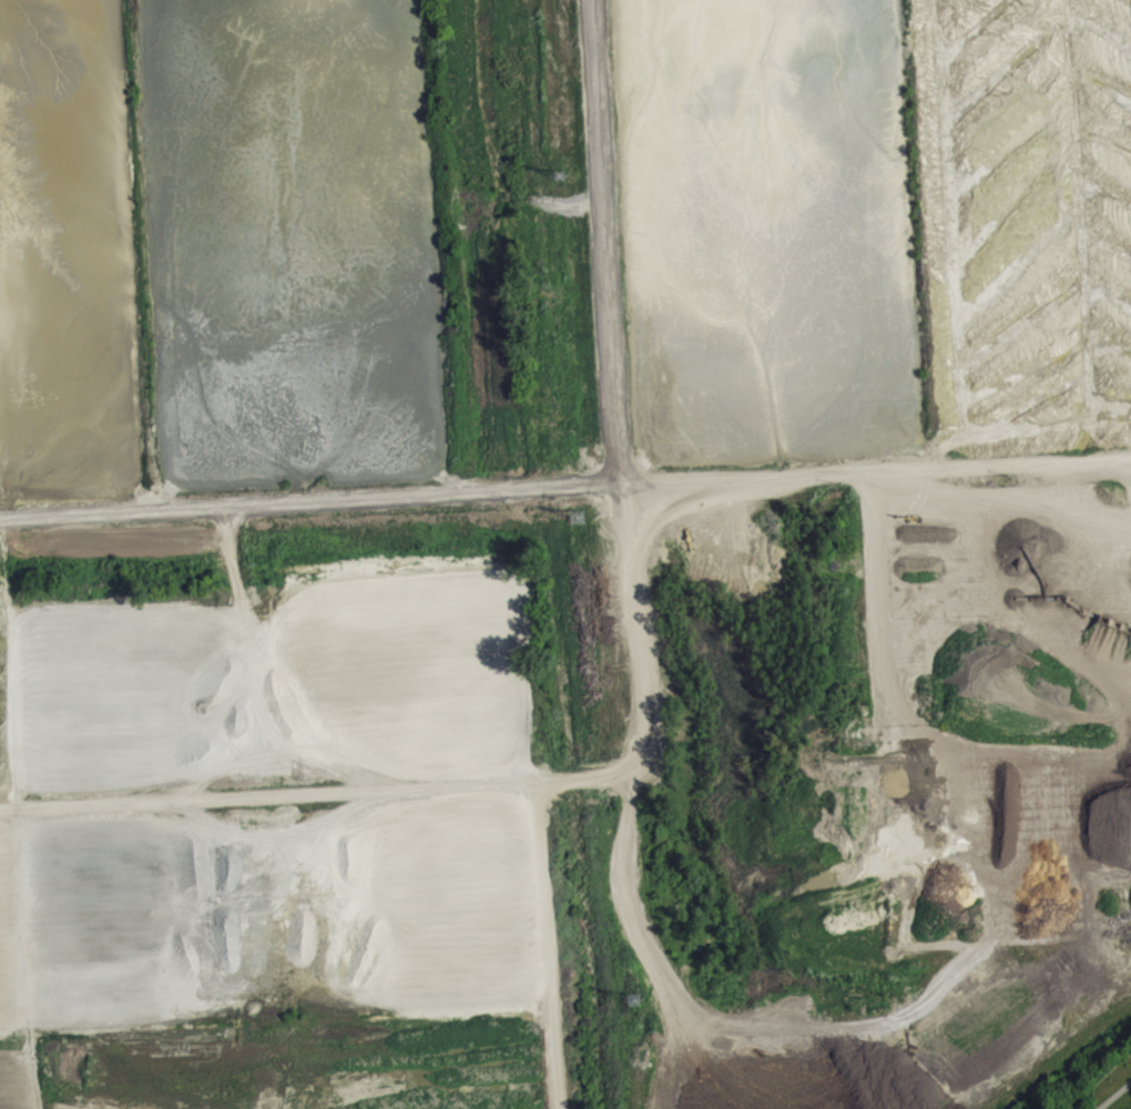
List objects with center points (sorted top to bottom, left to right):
power tower: (559, 176)
road: (564, 486)
power tower: (578, 521)
road: (648, 701)
road: (542, 944)
power tower: (636, 1001)
road: (1113, 1093)

